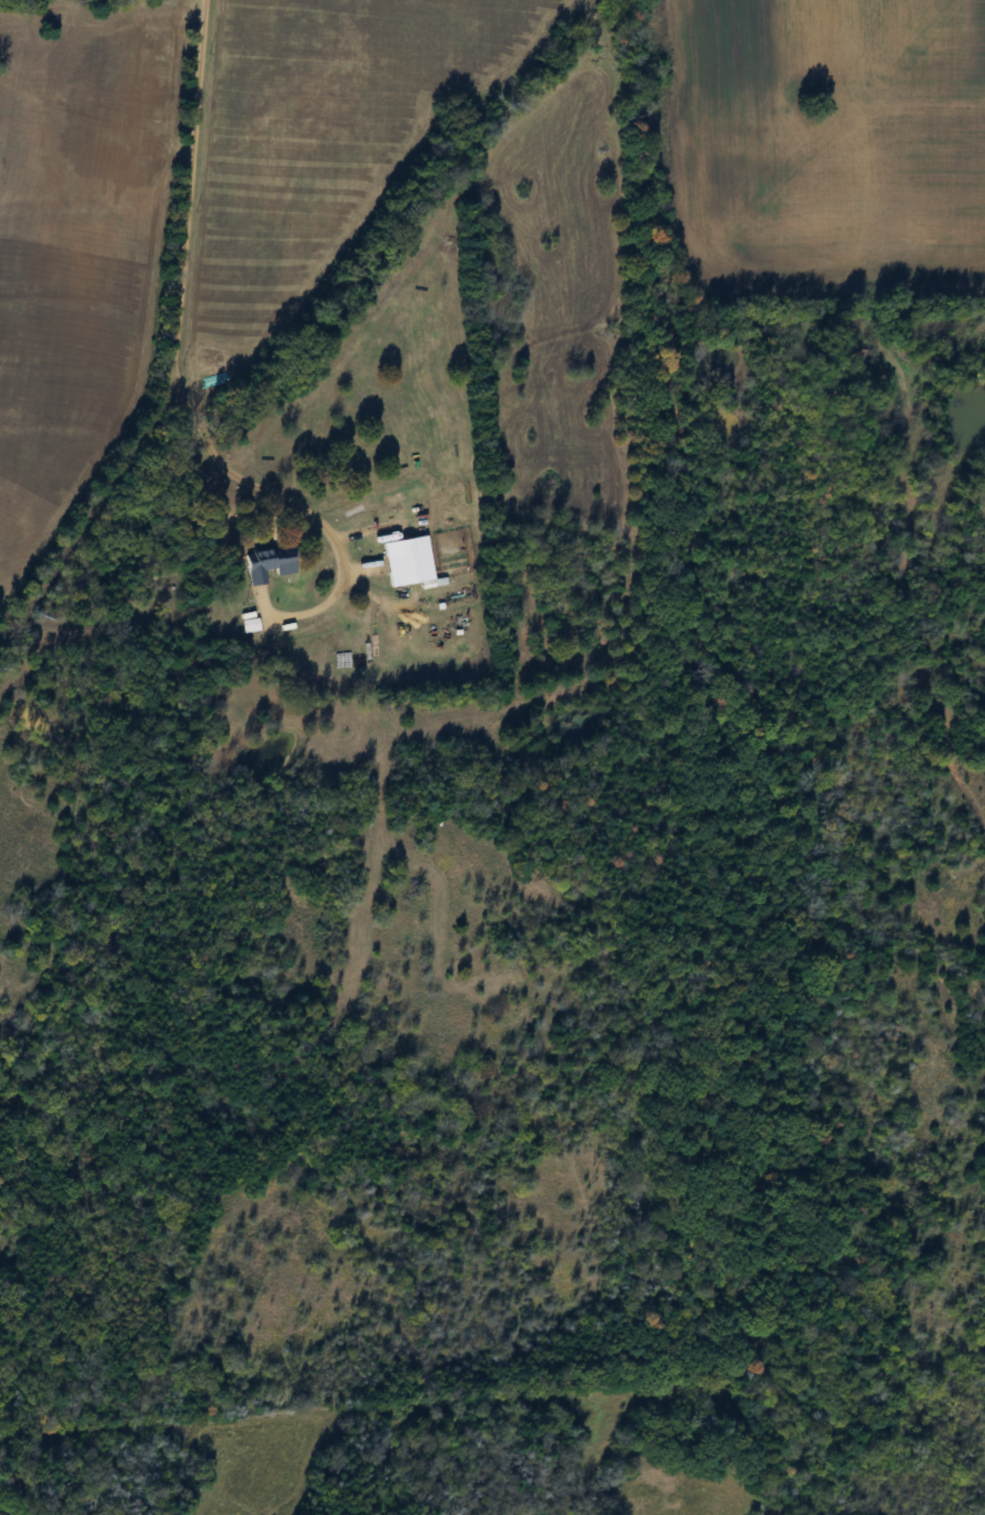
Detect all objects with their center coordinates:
road: (174, 365)
building: (404, 562)
building: (259, 564)

